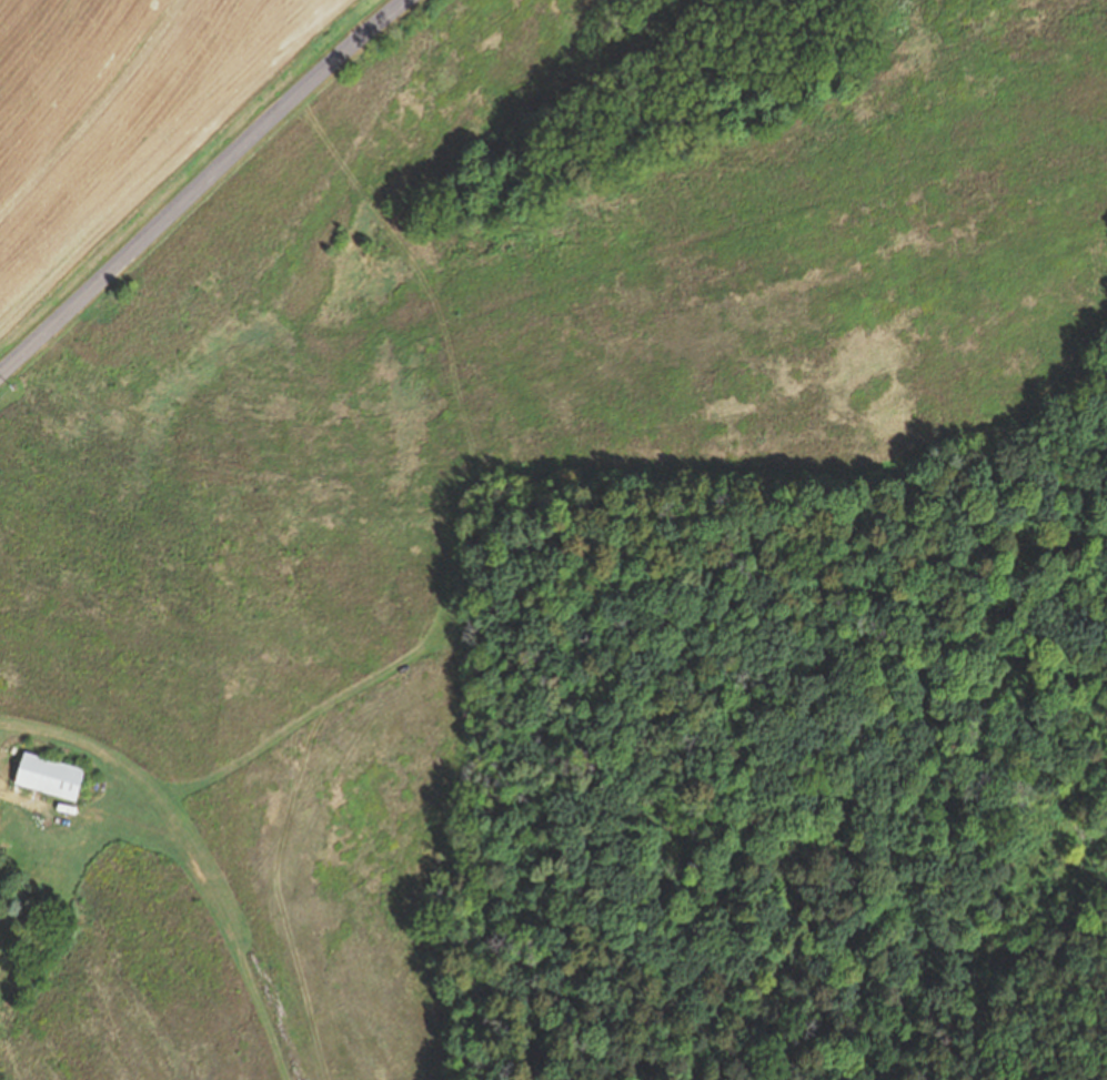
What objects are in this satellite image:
road: (204, 188)
road: (10, 735)
building: (50, 777)

